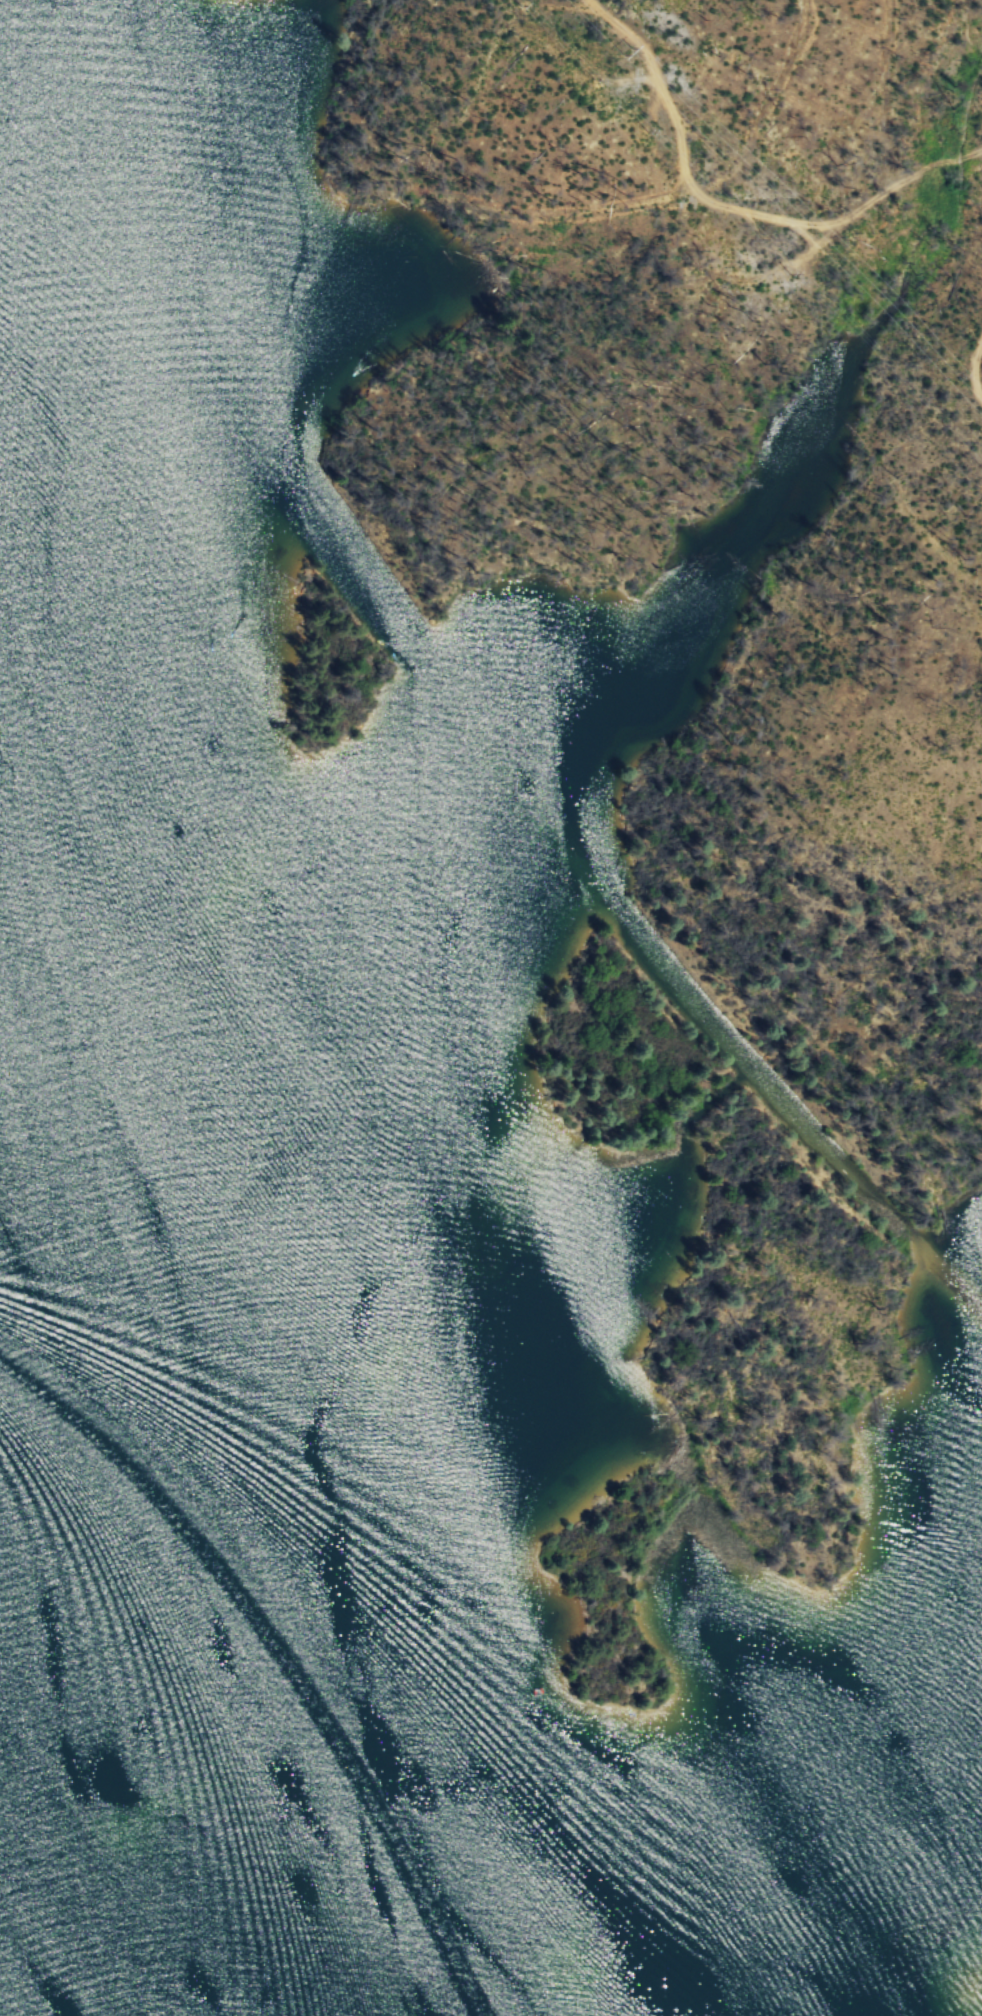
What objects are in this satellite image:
power tower: (627, 51)

